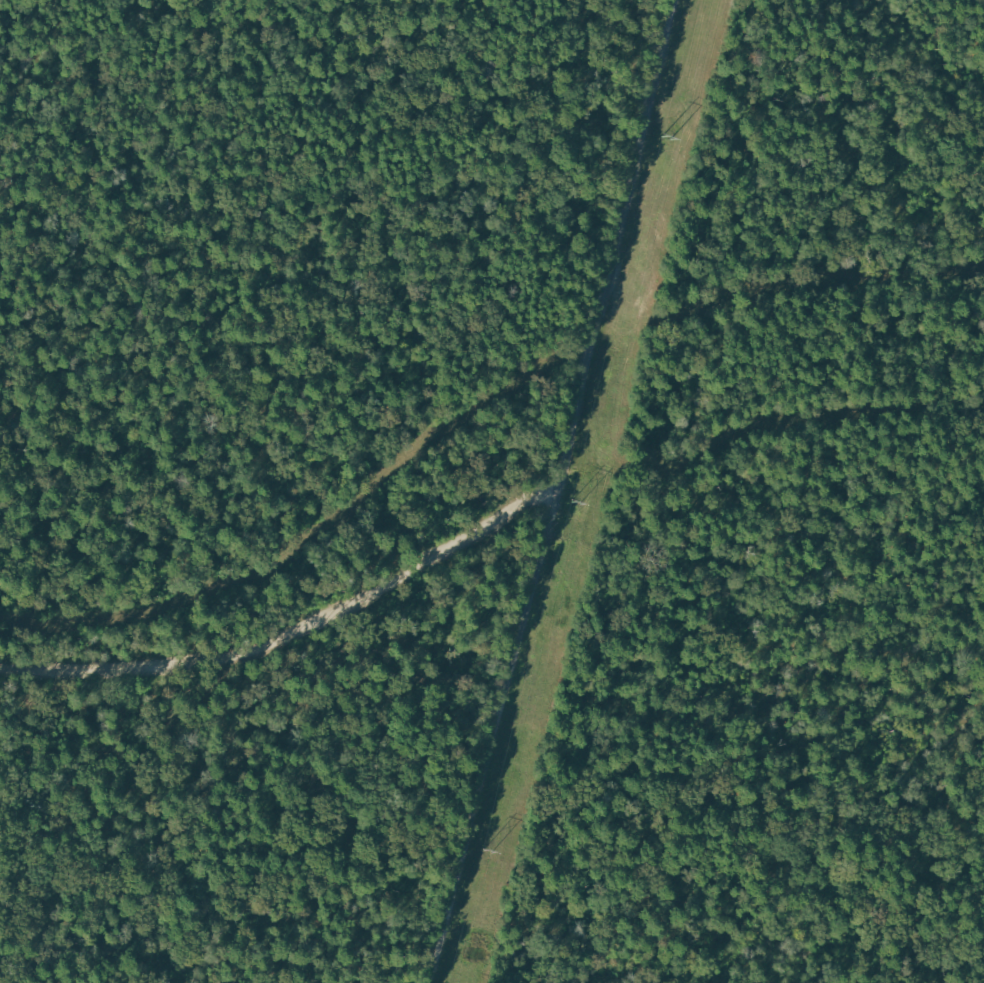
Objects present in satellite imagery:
power tower: (665, 137)
road: (619, 244)
power tower: (575, 504)
road: (296, 636)
road: (498, 735)
power tower: (488, 853)

